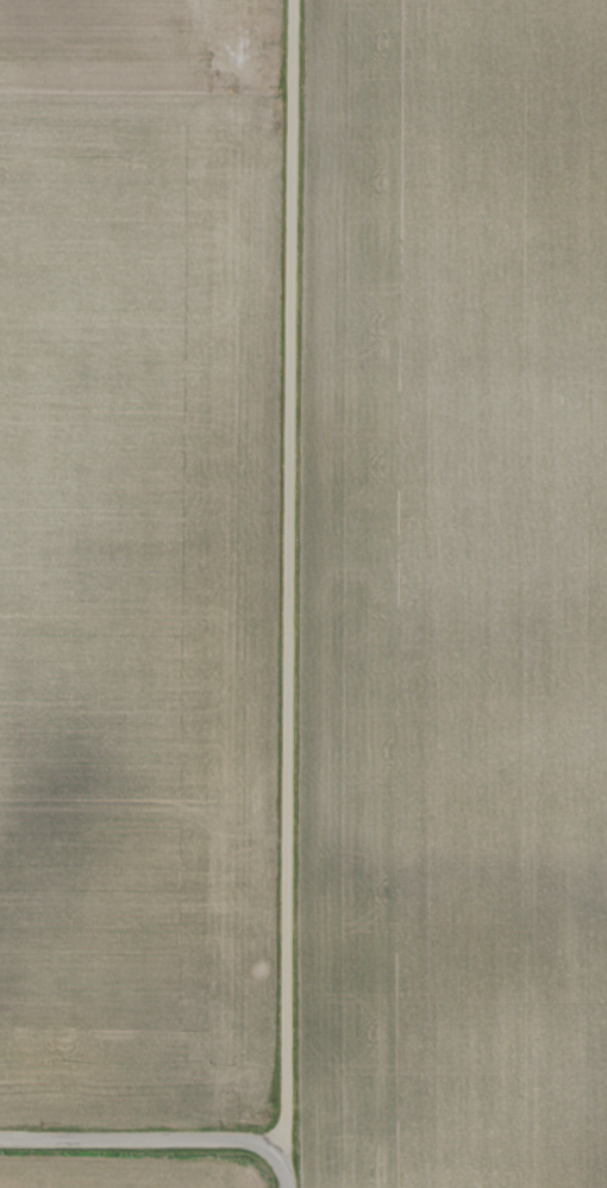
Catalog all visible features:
road: (288, 593)
road: (142, 1143)

